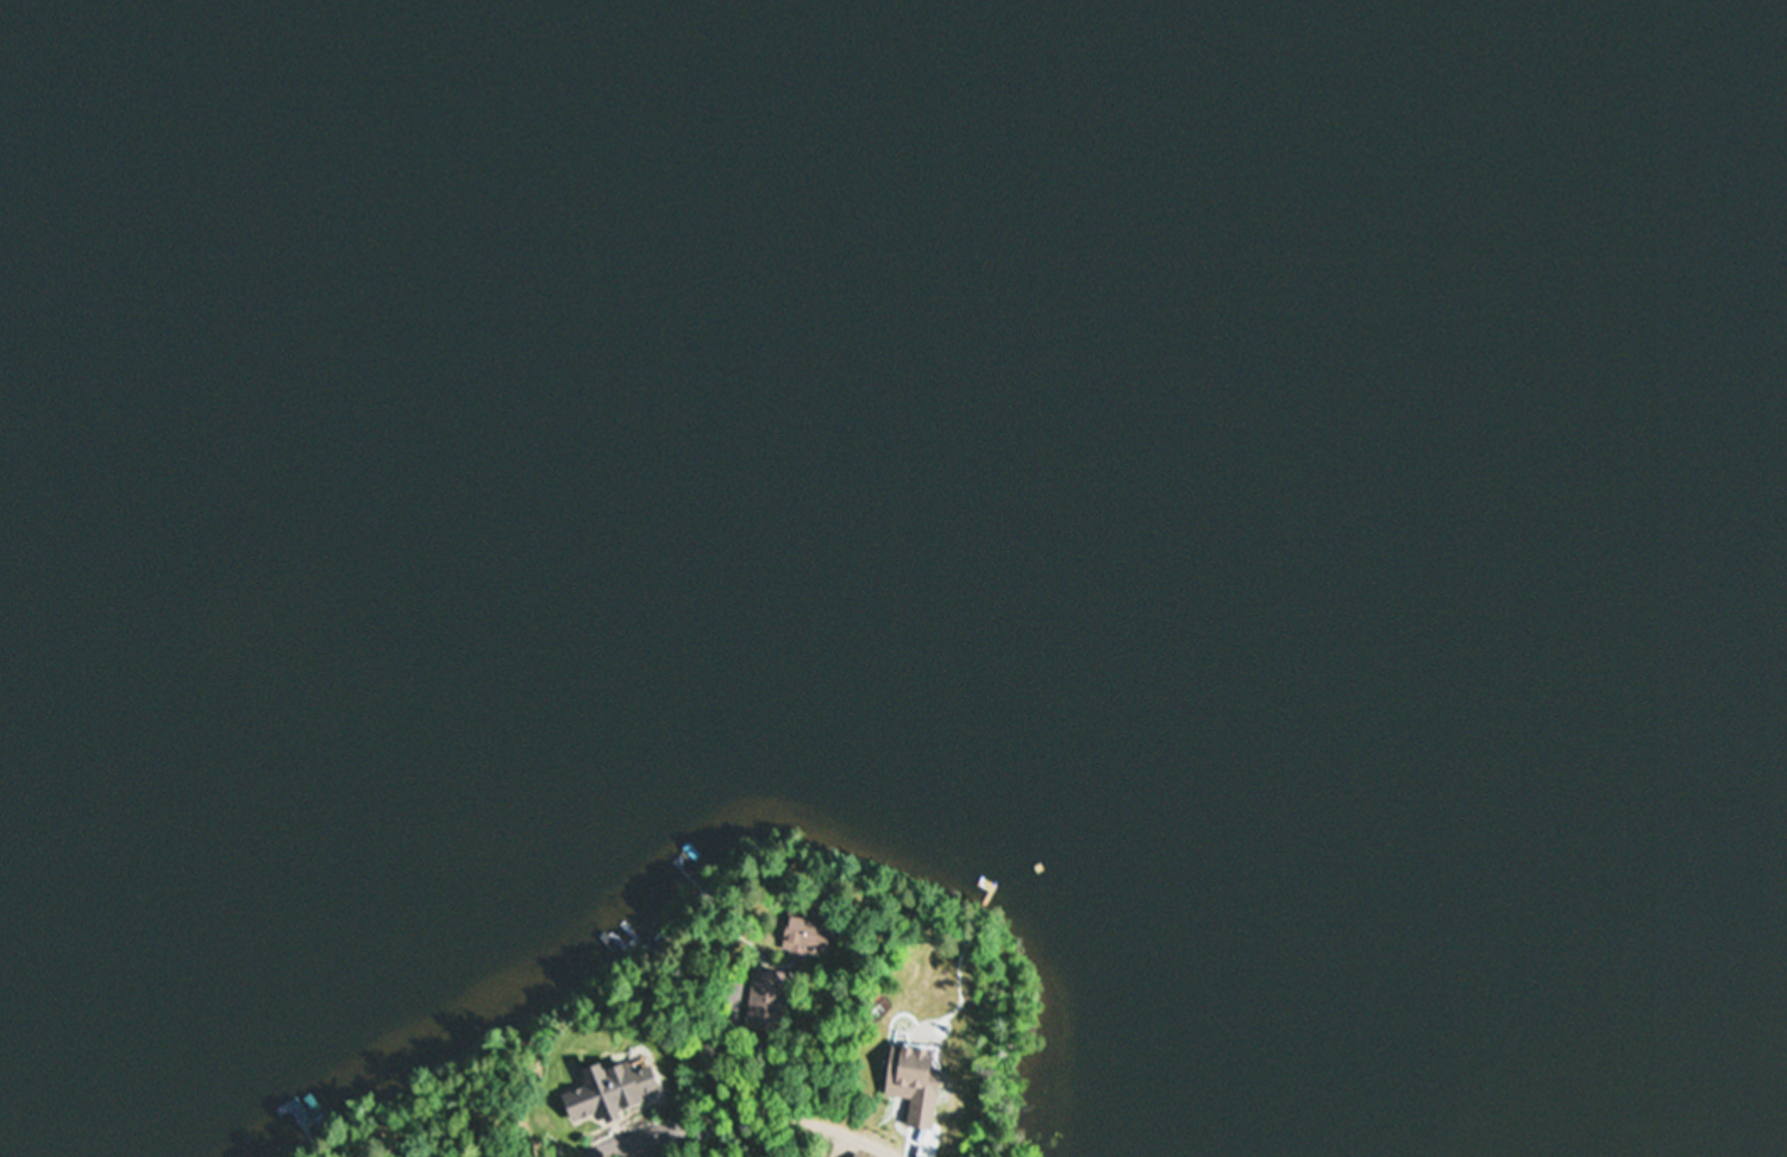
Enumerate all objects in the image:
building: (685, 860)
building: (801, 930)
building: (765, 992)
building: (913, 1084)
building: (607, 1093)

